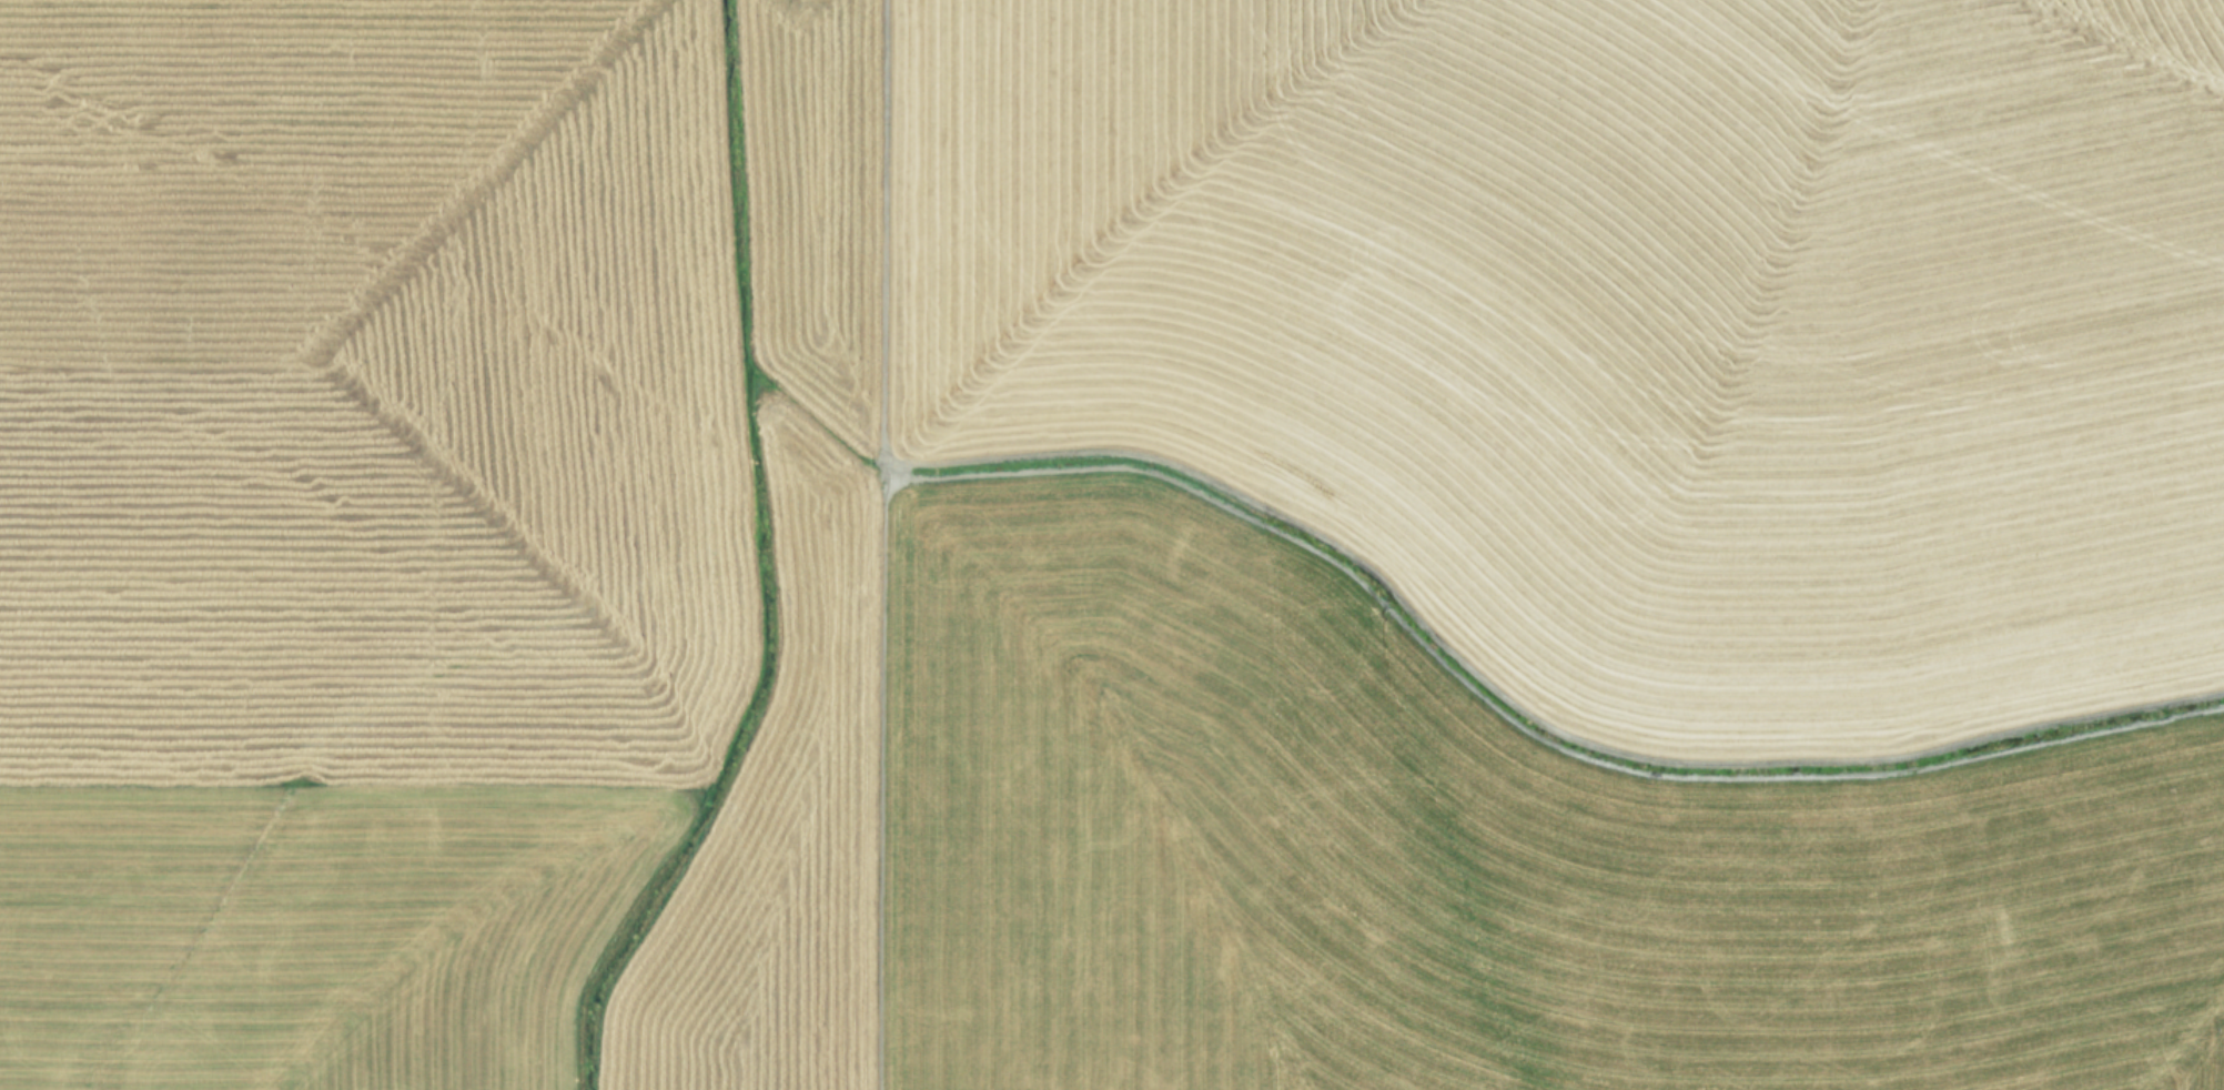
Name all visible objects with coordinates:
crop: (1112, 545)

